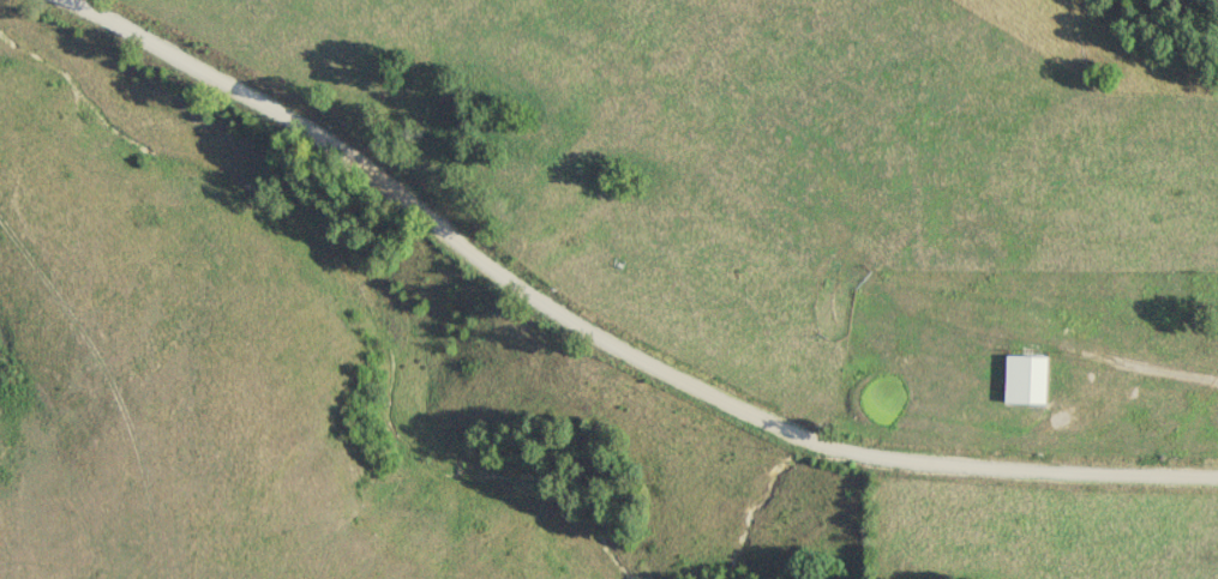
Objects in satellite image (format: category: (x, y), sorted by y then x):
road: (604, 338)
building: (1027, 380)

